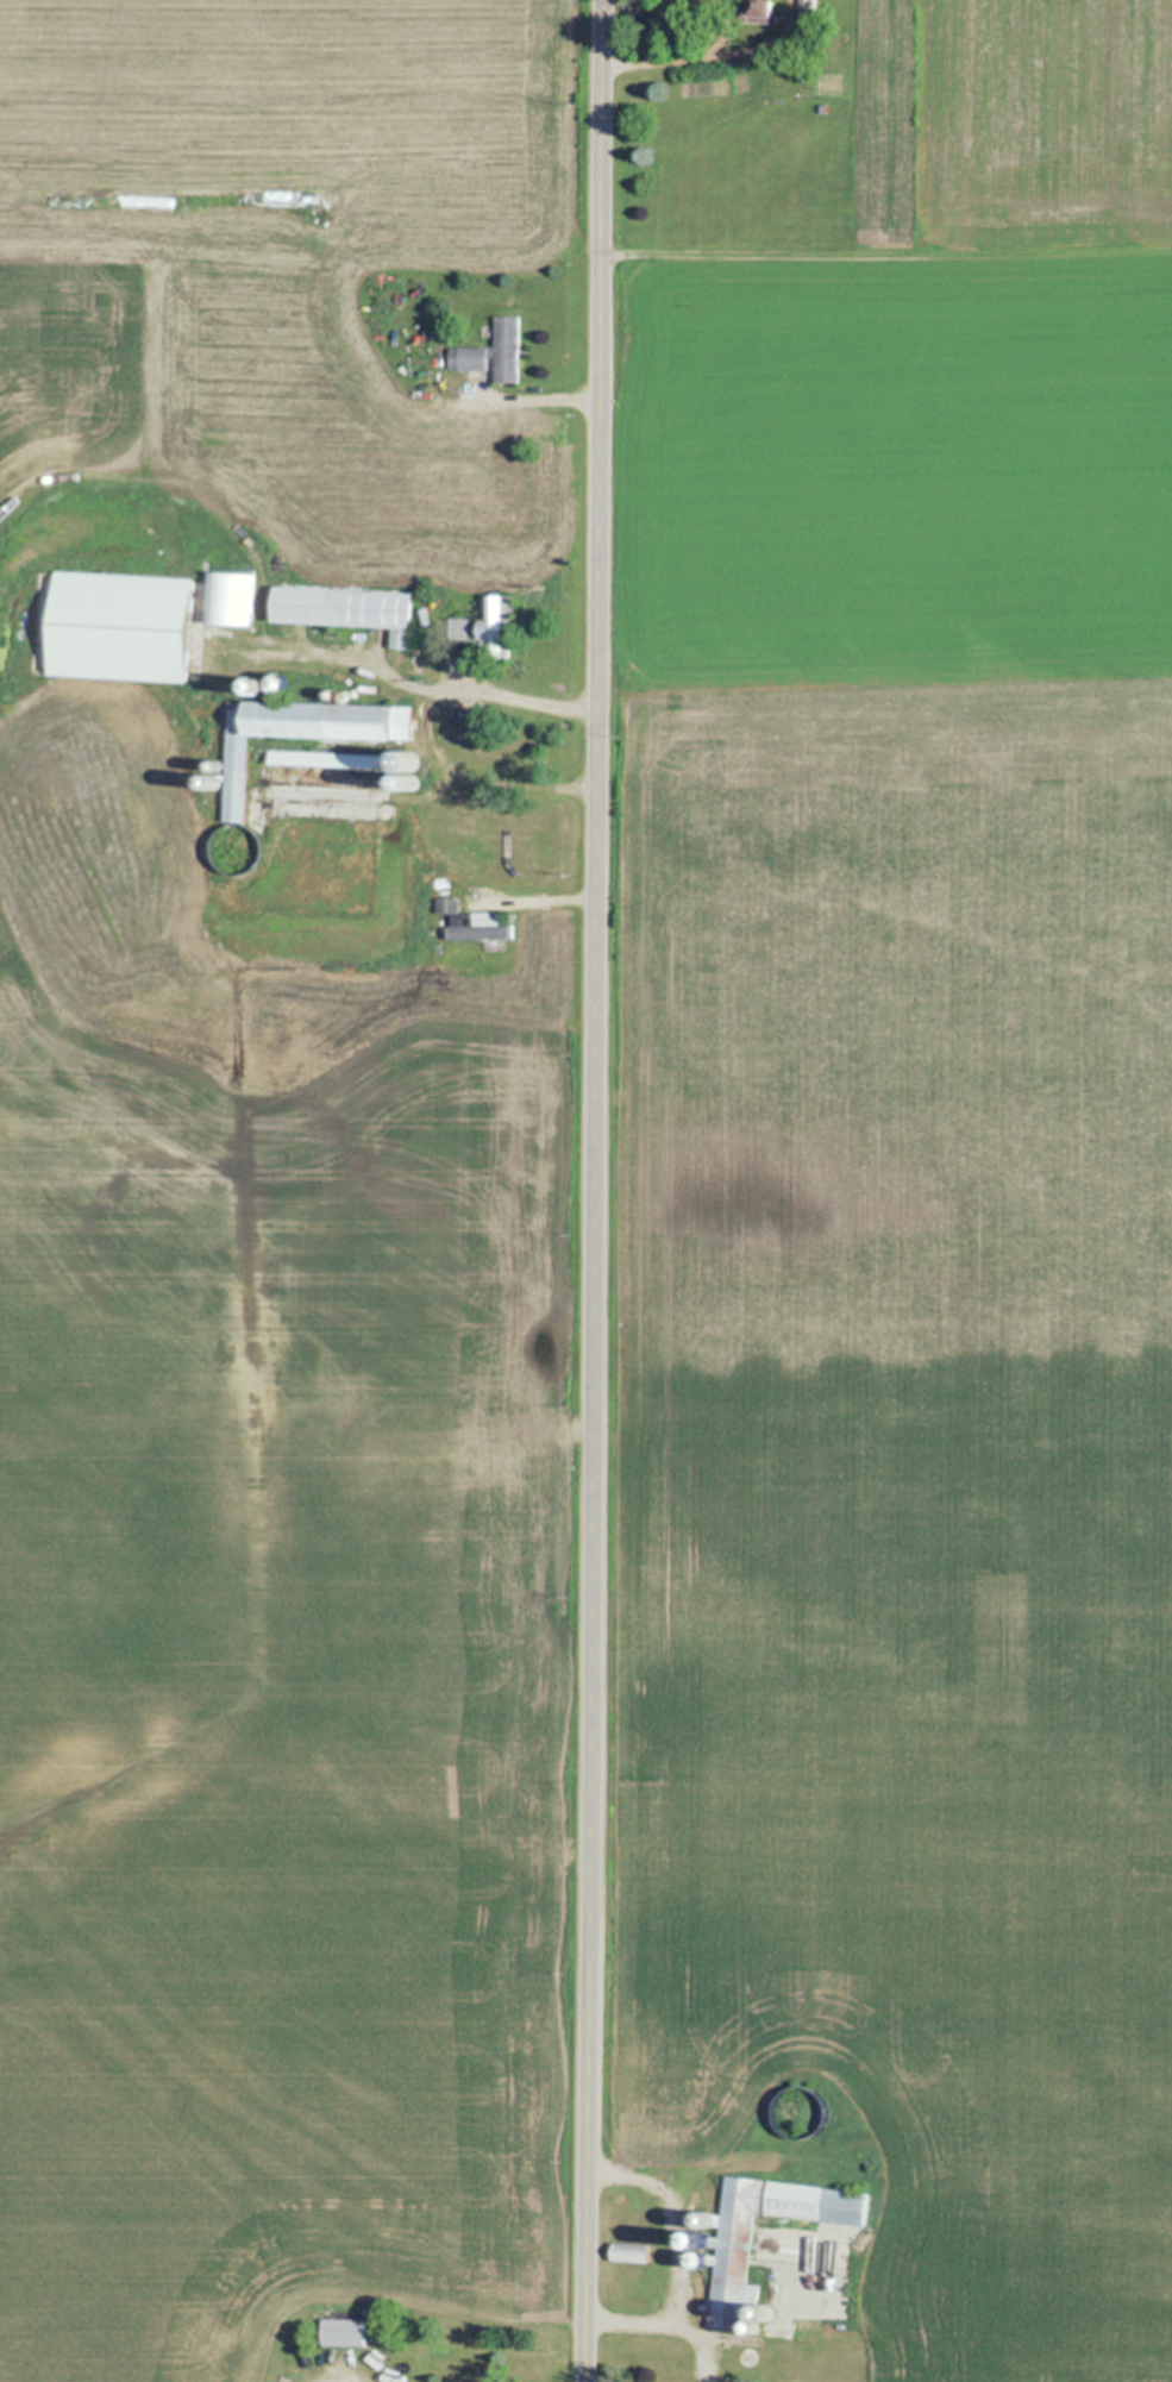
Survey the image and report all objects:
building: (806, 10)
building: (754, 11)
road: (735, 48)
road: (656, 58)
building: (489, 353)
road: (534, 400)
building: (343, 609)
building: (483, 625)
building: (114, 626)
road: (339, 656)
road: (420, 725)
building: (297, 733)
building: (321, 759)
building: (400, 770)
road: (543, 898)
building: (468, 922)
road: (593, 1191)
road: (678, 2215)
building: (627, 2251)
building: (800, 2251)
building: (716, 2256)
building: (341, 2332)
road: (665, 2332)

